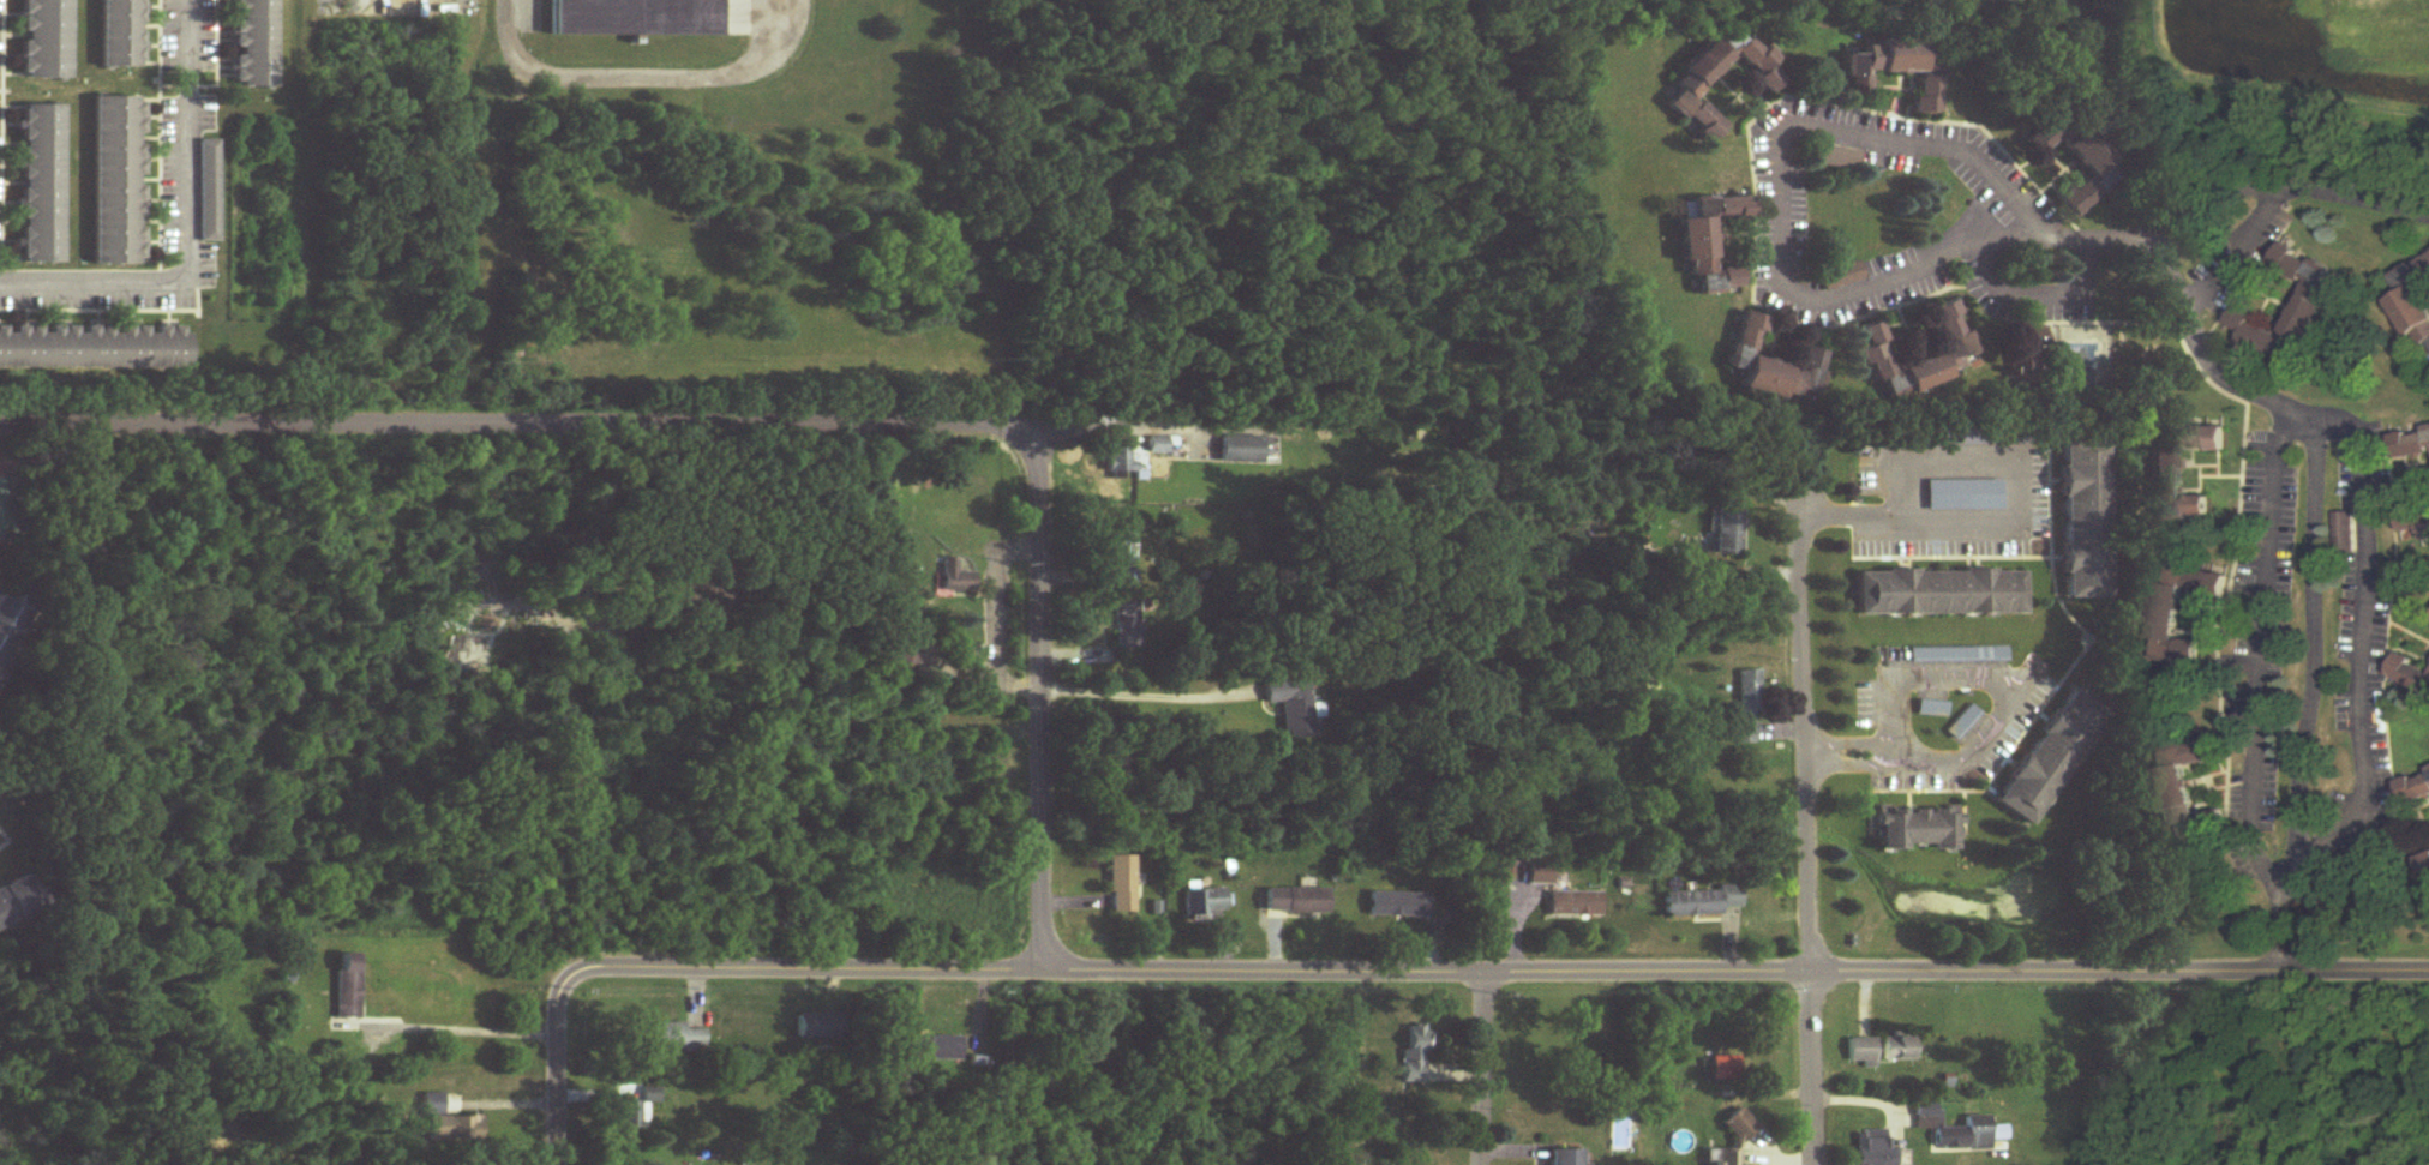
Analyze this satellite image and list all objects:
building: (637, 18)
building: (120, 34)
building: (46, 40)
building: (254, 43)
building: (1884, 61)
road: (643, 71)
building: (1692, 83)
building: (1927, 96)
building: (2065, 144)
road: (1941, 151)
building: (118, 181)
building: (42, 185)
building: (208, 191)
road: (2283, 191)
building: (2081, 197)
road: (188, 234)
building: (1711, 240)
road: (2235, 256)
building: (1840, 276)
road: (2039, 288)
building: (2319, 296)
building: (2413, 301)
building: (1953, 330)
building: (92, 347)
road: (2195, 352)
building: (1877, 354)
building: (2029, 359)
building: (1774, 366)
road: (485, 424)
road: (1105, 427)
building: (2415, 444)
building: (1157, 446)
building: (1241, 450)
building: (1120, 460)
building: (2182, 473)
building: (1965, 496)
road: (2014, 512)
building: (2086, 521)
building: (1728, 532)
building: (2343, 532)
building: (1117, 548)
building: (955, 578)
building: (1941, 594)
building: (2179, 608)
road: (985, 613)
building: (1126, 626)
building: (10, 627)
road: (2357, 632)
building: (905, 644)
building: (1957, 656)
road: (2257, 660)
road: (1026, 674)
building: (2412, 674)
road: (1997, 675)
road: (1135, 697)
building: (1747, 708)
building: (1293, 709)
road: (1875, 751)
road: (1815, 753)
building: (2053, 758)
building: (2428, 770)
building: (2184, 780)
building: (2415, 791)
road: (1806, 830)
building: (1919, 830)
building: (2425, 867)
building: (1122, 885)
building: (1296, 902)
building: (1202, 903)
building: (1701, 903)
building: (16, 905)
building: (1397, 906)
building: (1575, 906)
road: (1470, 973)
building: (348, 987)
road: (472, 1026)
building: (823, 1027)
building: (674, 1038)
building: (934, 1050)
building: (1897, 1050)
building: (1863, 1052)
building: (1416, 1056)
road: (1477, 1069)
building: (1725, 1069)
road: (554, 1097)
building: (637, 1111)
building: (450, 1122)
building: (1740, 1127)
building: (1971, 1135)
building: (1872, 1149)
building: (1567, 1158)
building: (1723, 1158)

